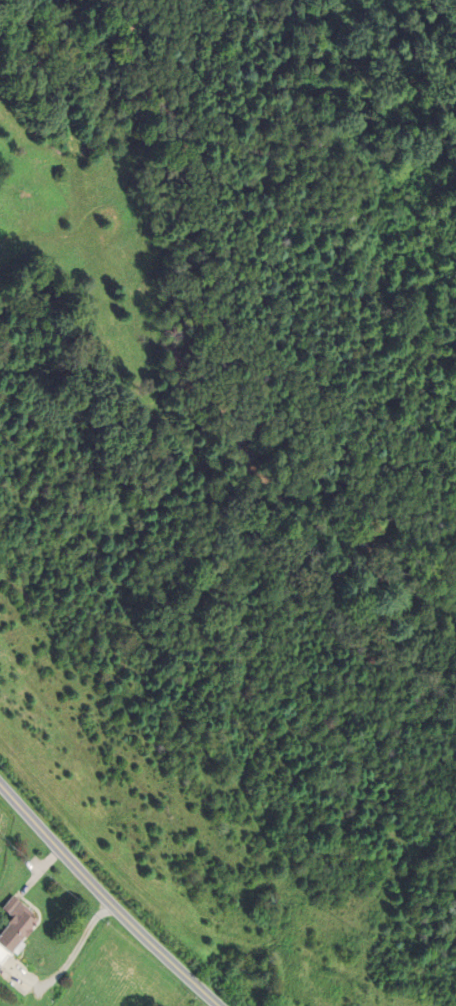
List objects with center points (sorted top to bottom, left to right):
road: (105, 898)
building: (15, 927)
road: (71, 958)

